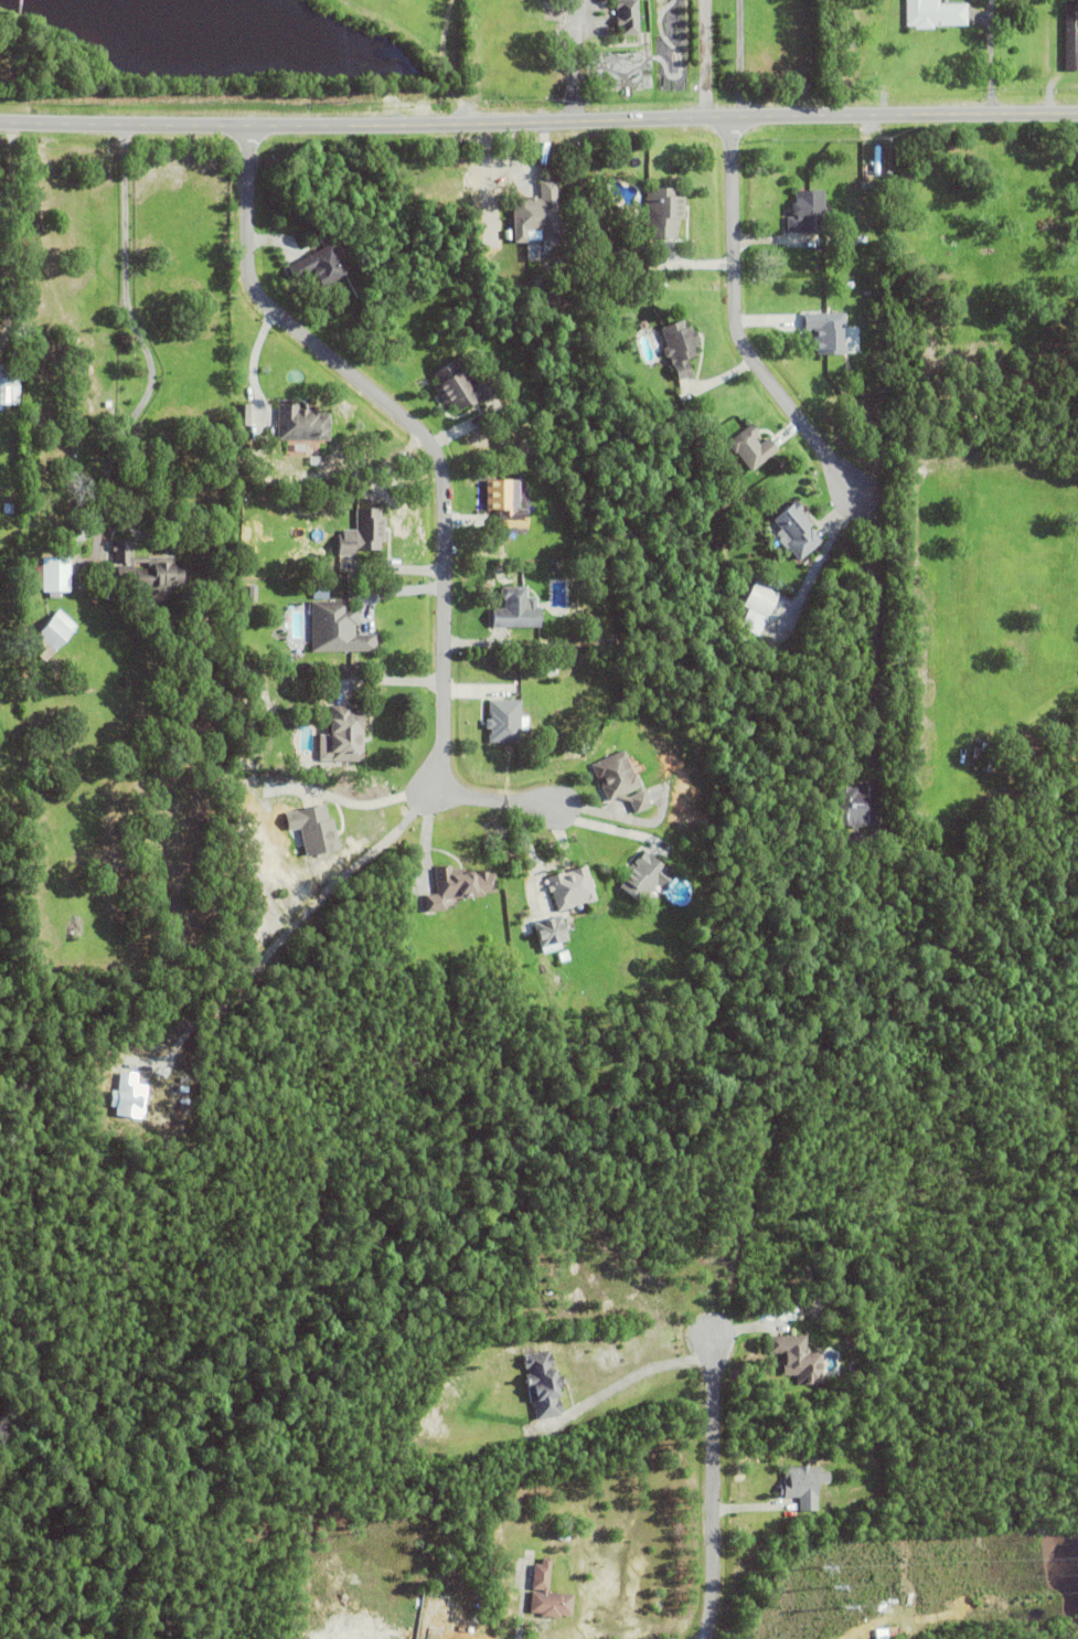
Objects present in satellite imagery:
building: (932, 15)
building: (630, 17)
building: (510, 19)
building: (1071, 39)
road: (735, 58)
road: (708, 60)
road: (452, 63)
road: (538, 121)
building: (876, 162)
road: (6, 198)
building: (663, 215)
building: (807, 215)
building: (536, 219)
building: (320, 263)
building: (846, 269)
road: (729, 326)
building: (825, 336)
road: (138, 337)
building: (679, 350)
building: (8, 380)
building: (460, 381)
building: (243, 413)
building: (302, 421)
building: (750, 450)
road: (441, 485)
building: (505, 500)
building: (797, 528)
building: (363, 531)
building: (149, 571)
building: (53, 573)
building: (515, 607)
building: (758, 607)
building: (339, 628)
road: (874, 630)
building: (51, 634)
building: (504, 720)
building: (345, 733)
building: (620, 779)
building: (666, 787)
road: (366, 806)
building: (854, 810)
building: (313, 827)
building: (644, 875)
building: (572, 886)
building: (460, 887)
building: (551, 928)
building: (130, 1096)
building: (791, 1352)
building: (542, 1384)
road: (623, 1384)
road: (709, 1475)
building: (803, 1484)
power tower: (836, 1589)
building: (547, 1594)

